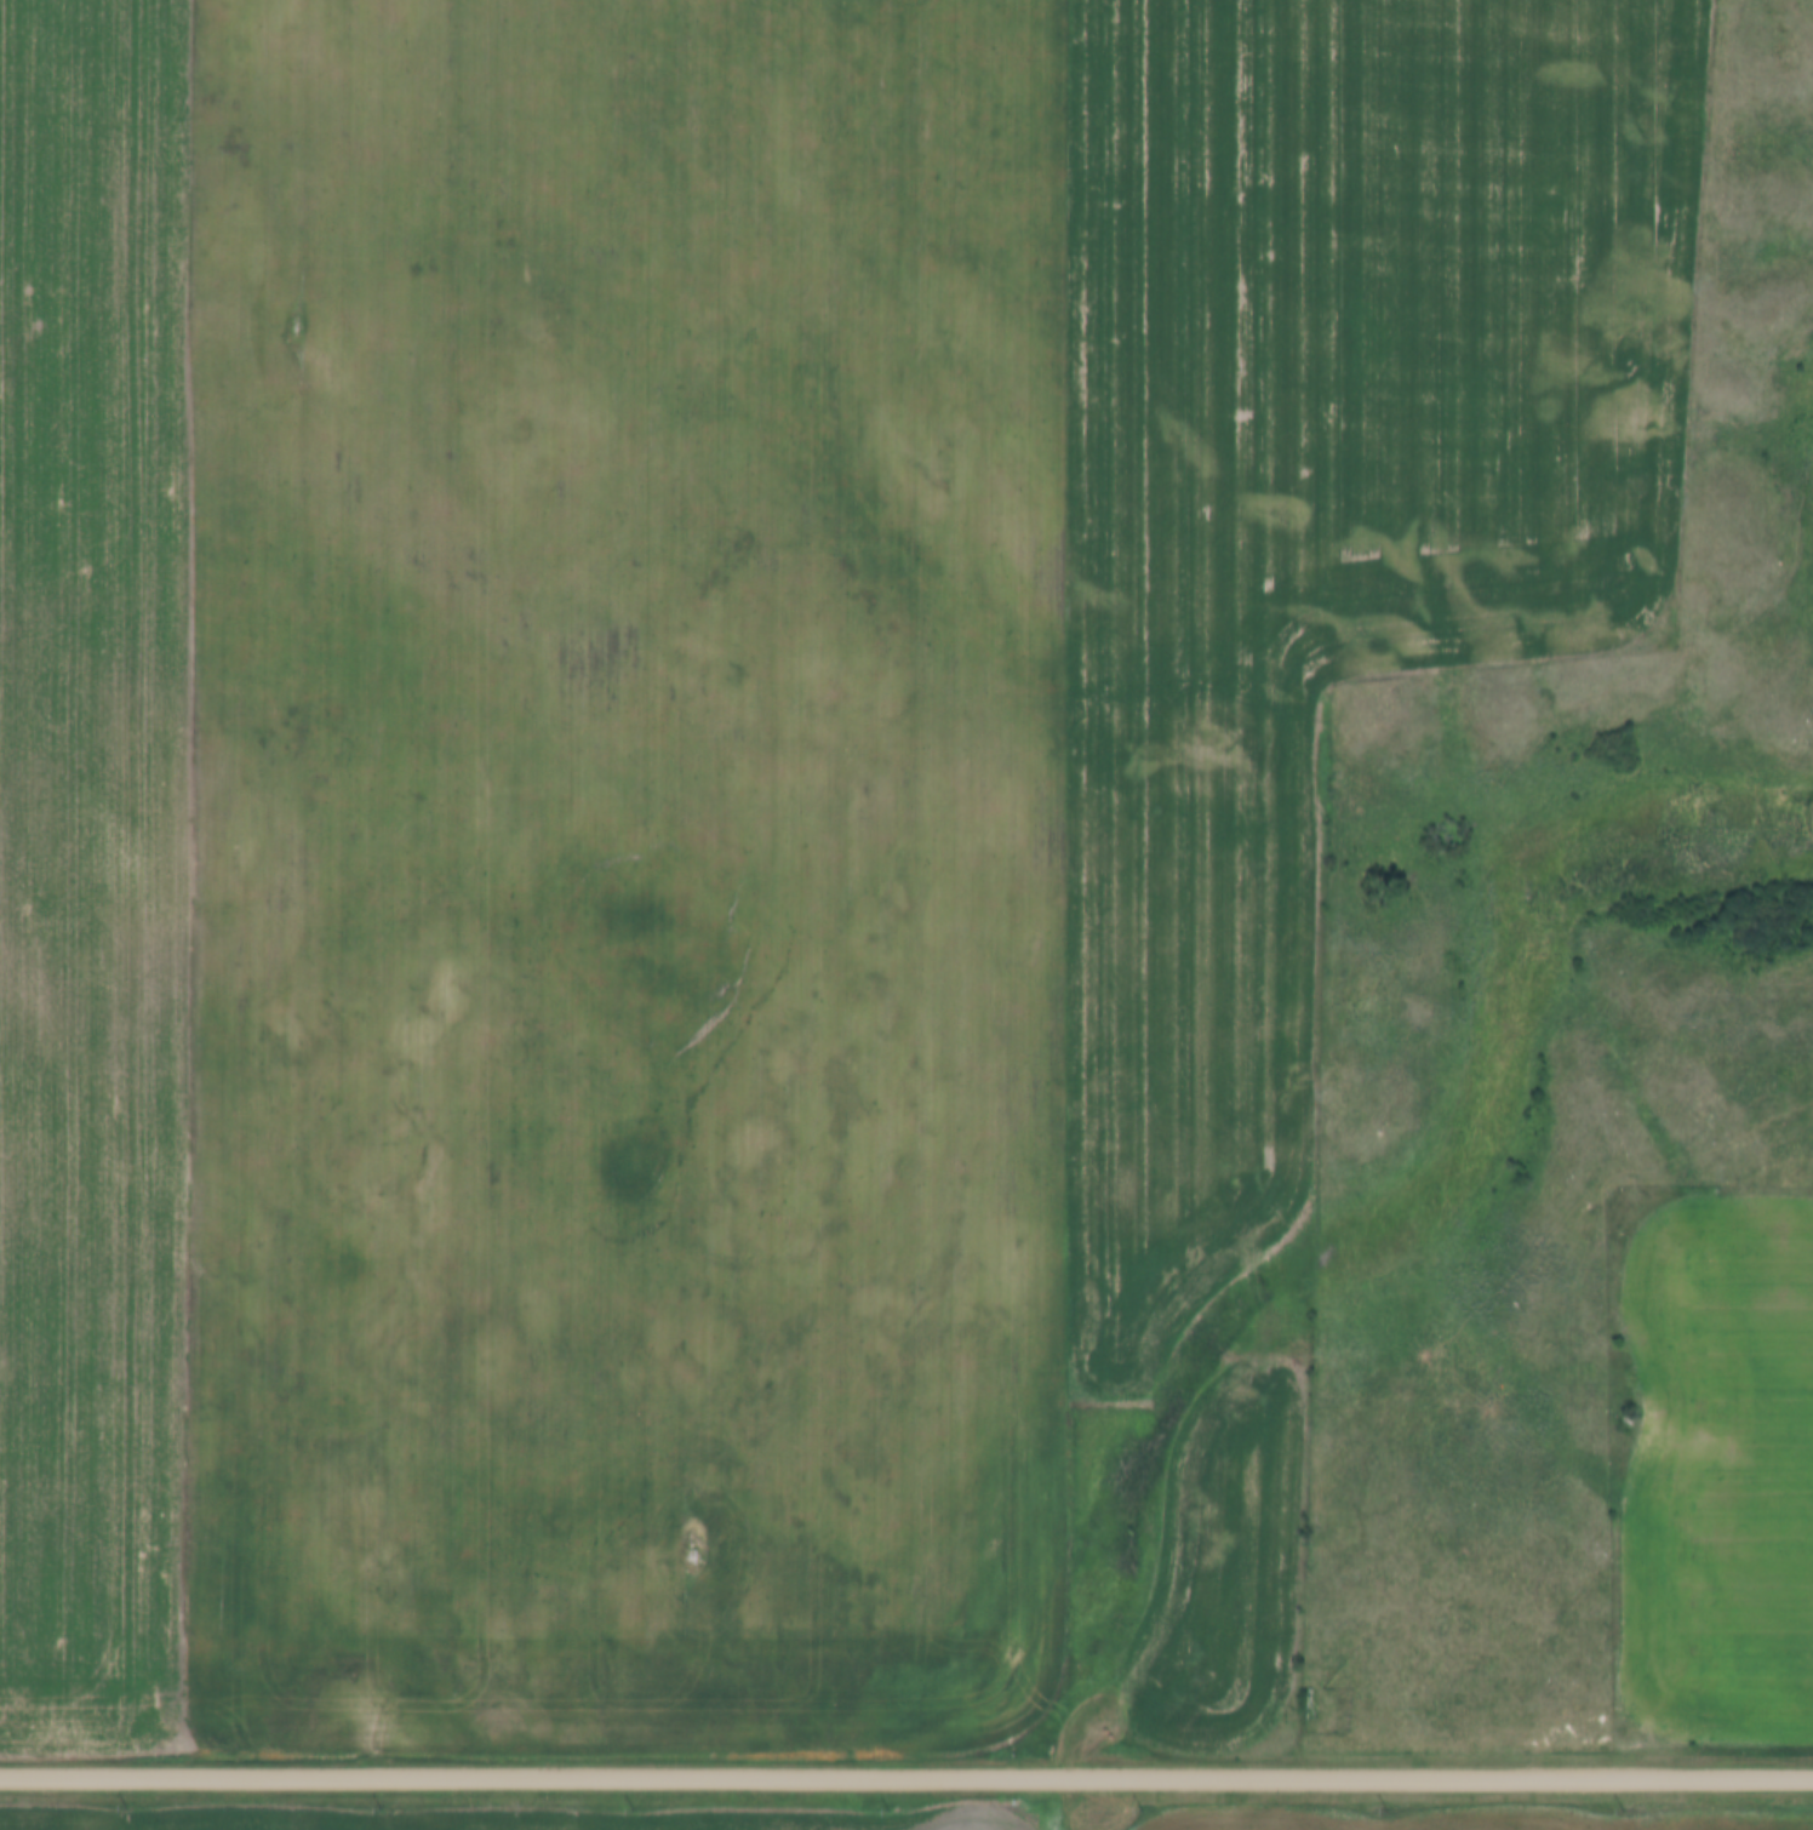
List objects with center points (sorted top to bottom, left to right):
road: (905, 1774)

